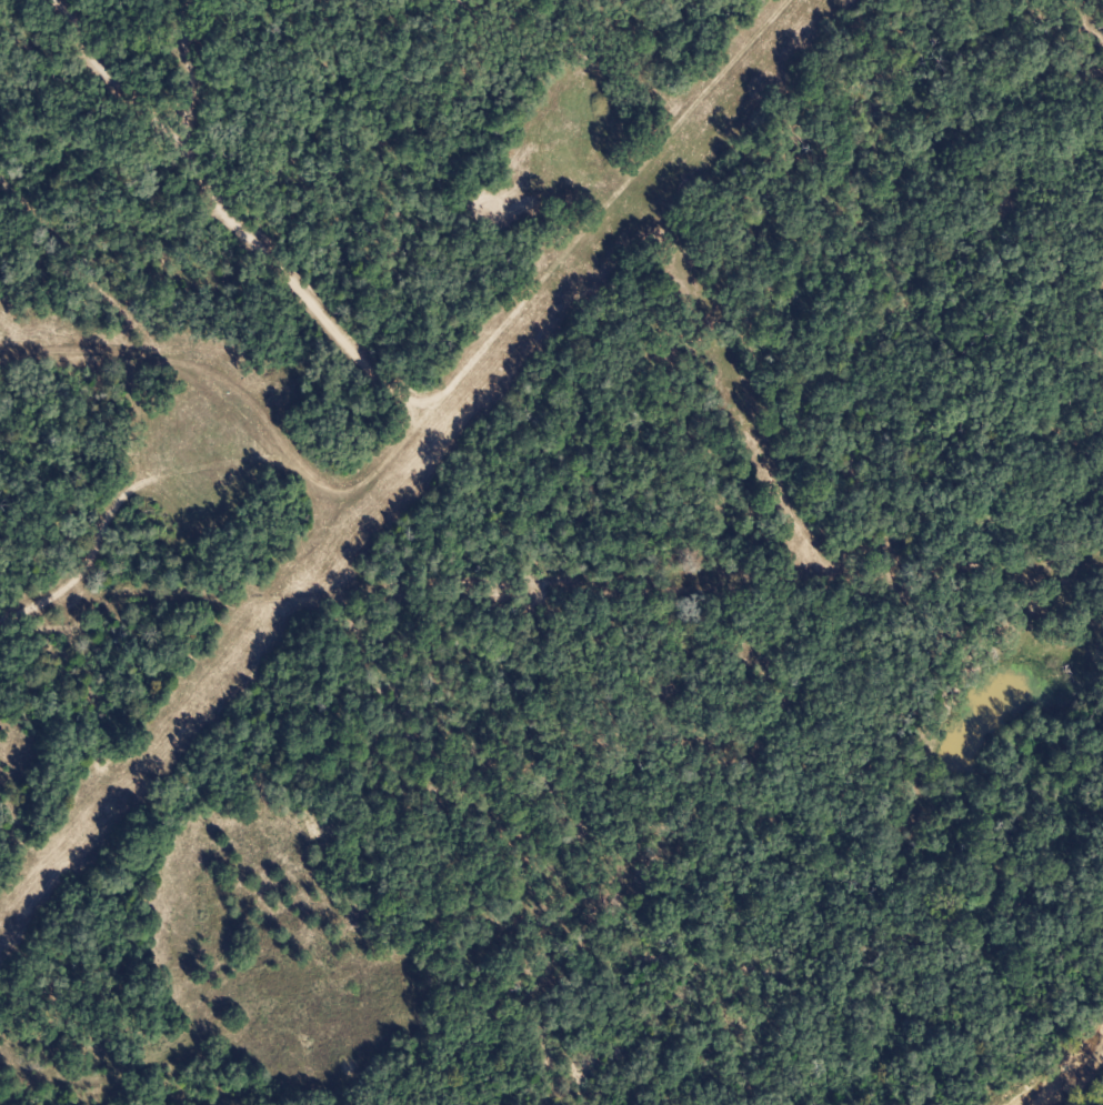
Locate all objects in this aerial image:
road: (130, 1059)

